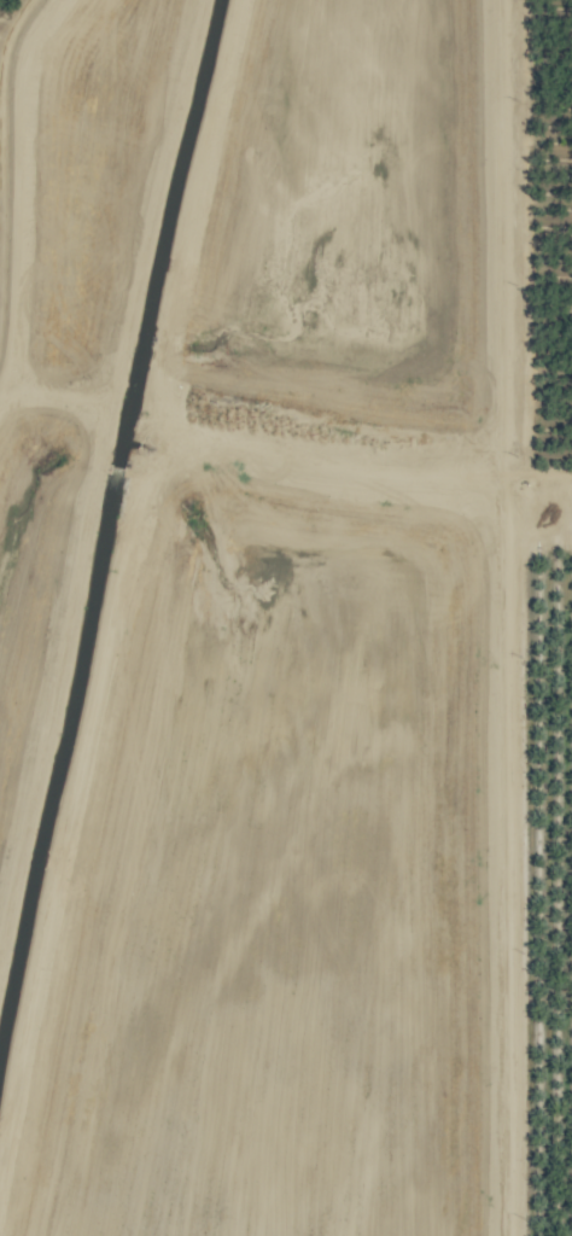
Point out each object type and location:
crop: (286, 618)

